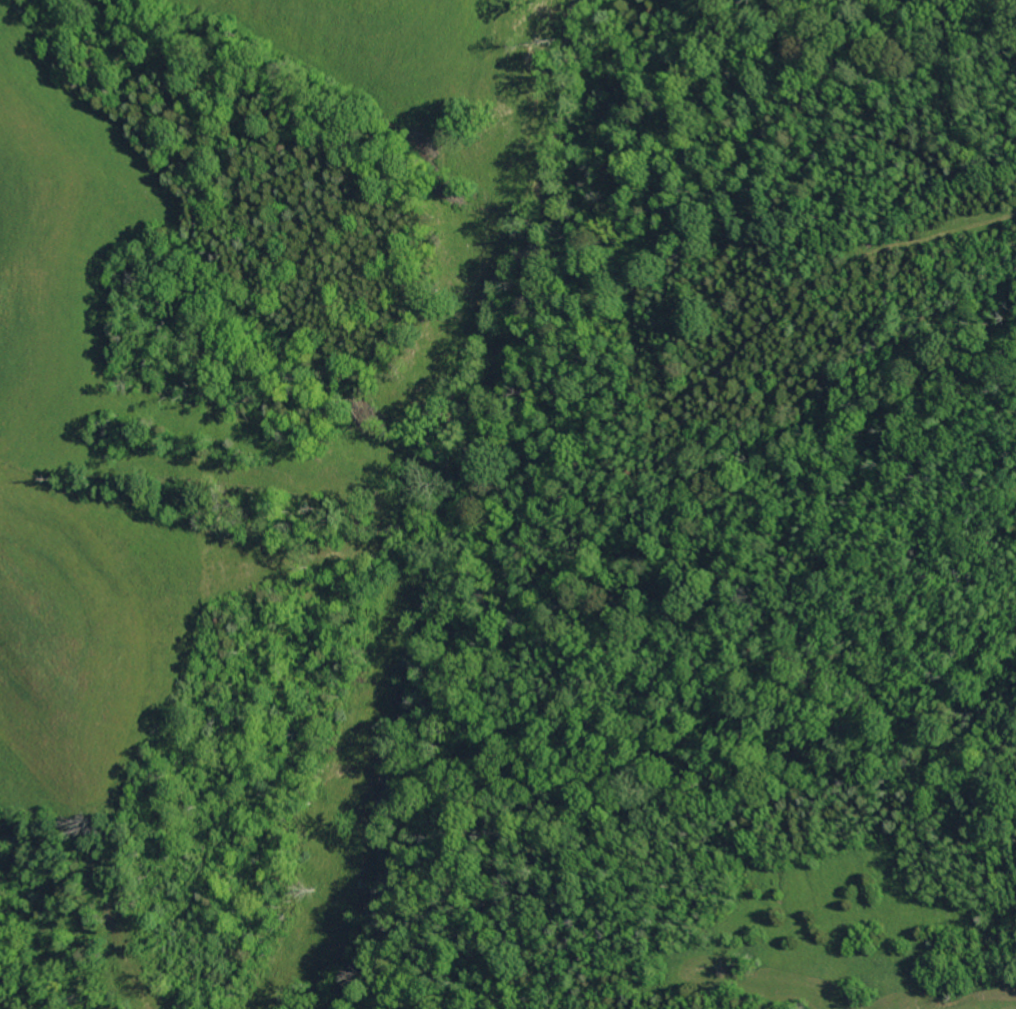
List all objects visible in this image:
road: (808, 723)

